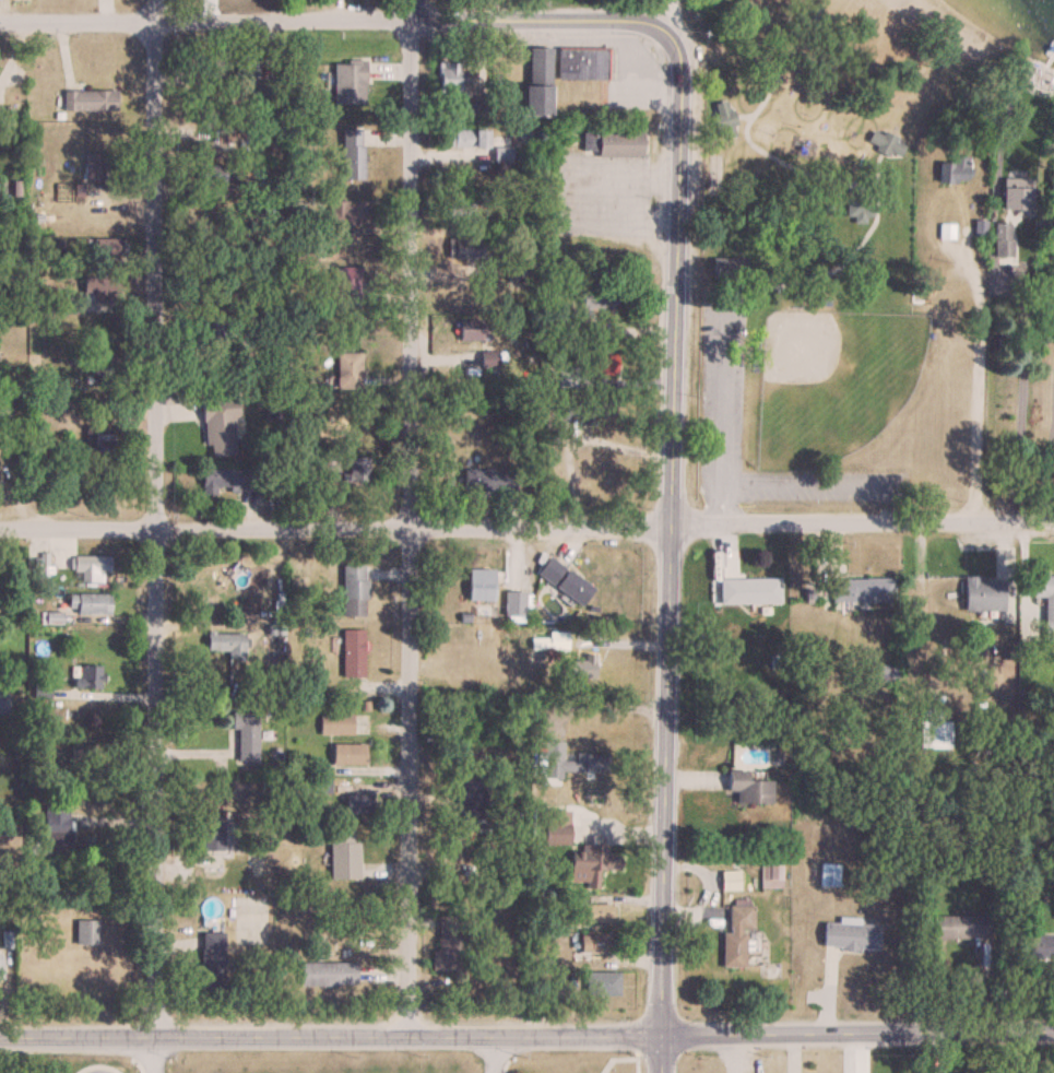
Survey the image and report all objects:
road: (153, 10)
road: (410, 10)
road: (671, 17)
road: (336, 21)
building: (582, 62)
building: (216, 74)
building: (448, 76)
building: (248, 79)
building: (538, 81)
building: (348, 82)
building: (90, 99)
building: (476, 109)
building: (725, 126)
building: (611, 135)
building: (223, 138)
building: (466, 138)
building: (886, 142)
building: (352, 153)
building: (502, 154)
building: (96, 165)
building: (954, 169)
building: (211, 173)
building: (1051, 186)
road: (571, 190)
building: (1016, 198)
building: (350, 212)
building: (461, 213)
building: (106, 245)
building: (464, 248)
building: (1004, 250)
park: (824, 258)
building: (727, 267)
building: (346, 283)
building: (99, 288)
building: (593, 299)
building: (55, 308)
building: (211, 327)
building: (474, 327)
building: (602, 364)
building: (347, 370)
building: (103, 374)
road: (974, 376)
building: (566, 378)
park: (832, 380)
parking lot: (721, 382)
road: (1020, 398)
road: (722, 415)
building: (218, 426)
building: (102, 441)
road: (1049, 441)
building: (354, 469)
building: (328, 470)
road: (801, 477)
building: (223, 481)
building: (475, 481)
building: (498, 483)
road: (406, 528)
road: (526, 528)
road: (152, 529)
road: (666, 553)
building: (90, 566)
building: (549, 570)
building: (479, 585)
building: (573, 586)
building: (875, 589)
building: (354, 590)
building: (748, 590)
building: (1044, 593)
building: (982, 594)
building: (87, 603)
building: (516, 604)
road: (251, 622)
building: (225, 644)
building: (352, 652)
building: (578, 668)
building: (88, 676)
building: (40, 694)
building: (3, 703)
building: (334, 724)
building: (244, 732)
building: (933, 735)
building: (347, 755)
building: (84, 757)
building: (583, 764)
building: (748, 788)
building: (471, 797)
building: (357, 803)
building: (56, 821)
building: (555, 834)
building: (212, 838)
building: (342, 854)
building: (587, 863)
building: (771, 874)
building: (828, 874)
building: (594, 913)
building: (958, 927)
building: (86, 932)
building: (850, 934)
building: (735, 935)
building: (447, 942)
building: (594, 943)
building: (1040, 945)
building: (209, 960)
building: (0, 964)
building: (328, 972)
building: (601, 982)
road: (526, 1036)
road: (153, 1054)
road: (495, 1054)

